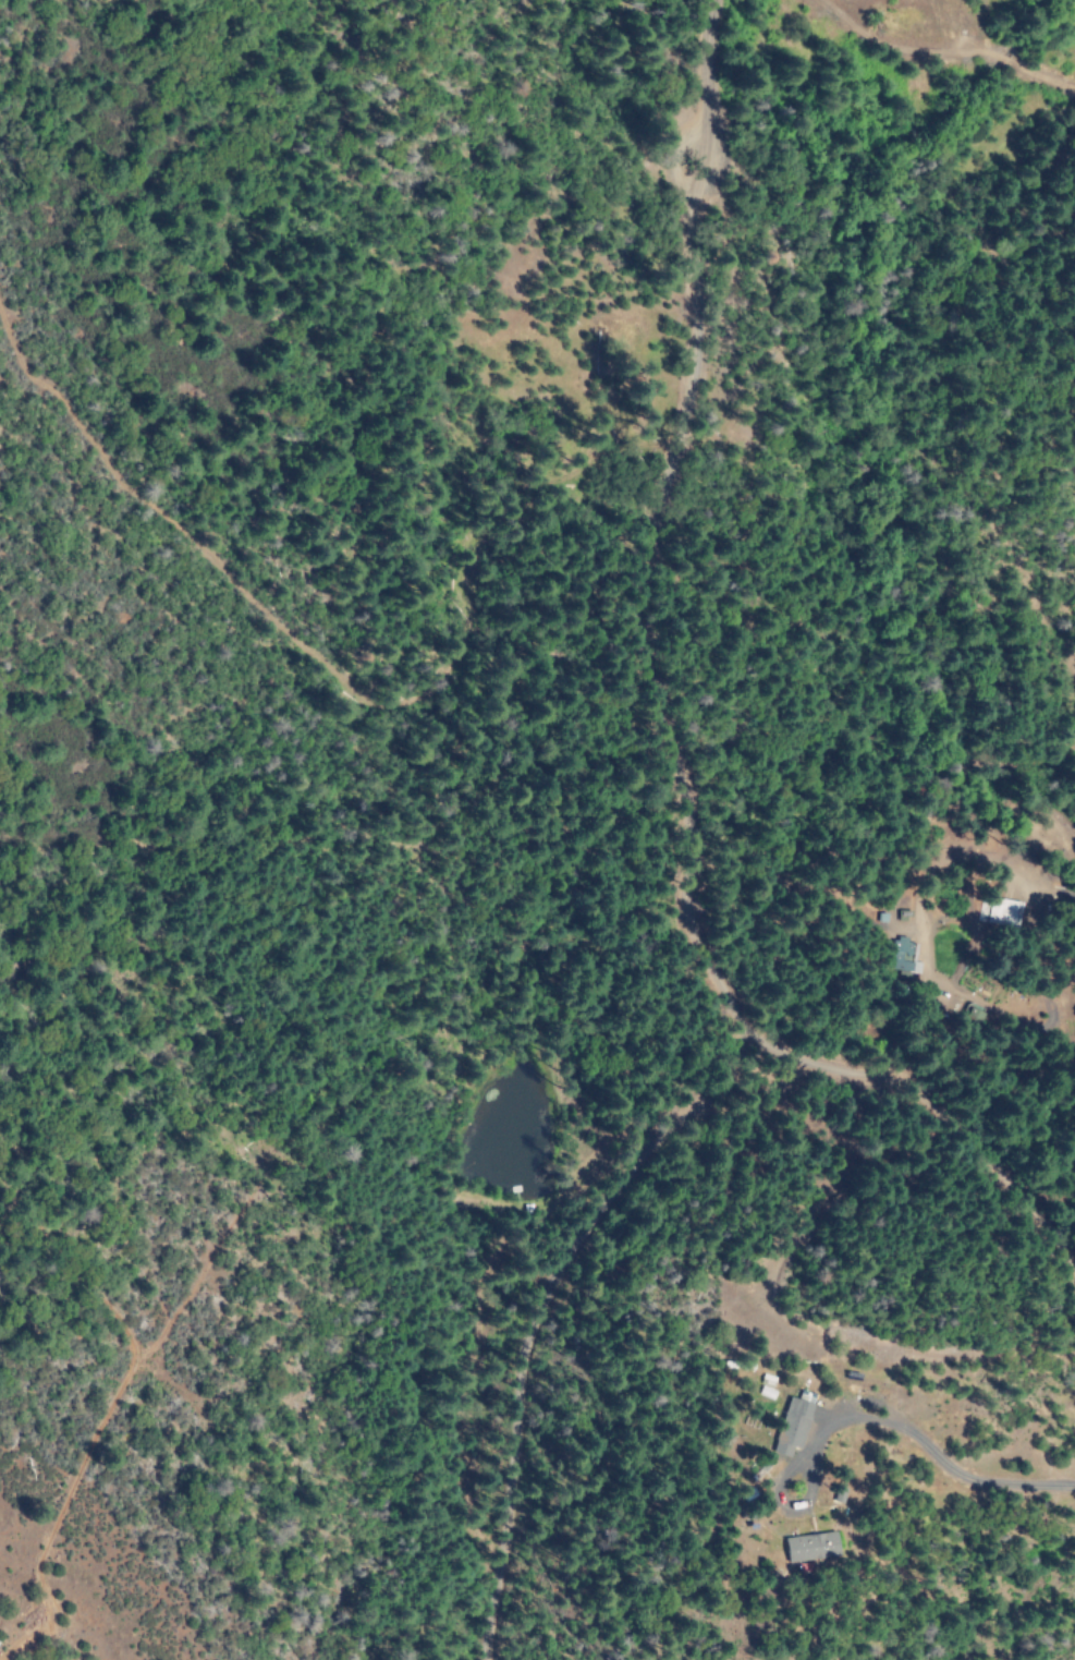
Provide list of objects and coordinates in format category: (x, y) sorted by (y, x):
road: (664, 607)
road: (993, 1168)
building: (789, 1426)
building: (808, 1544)

